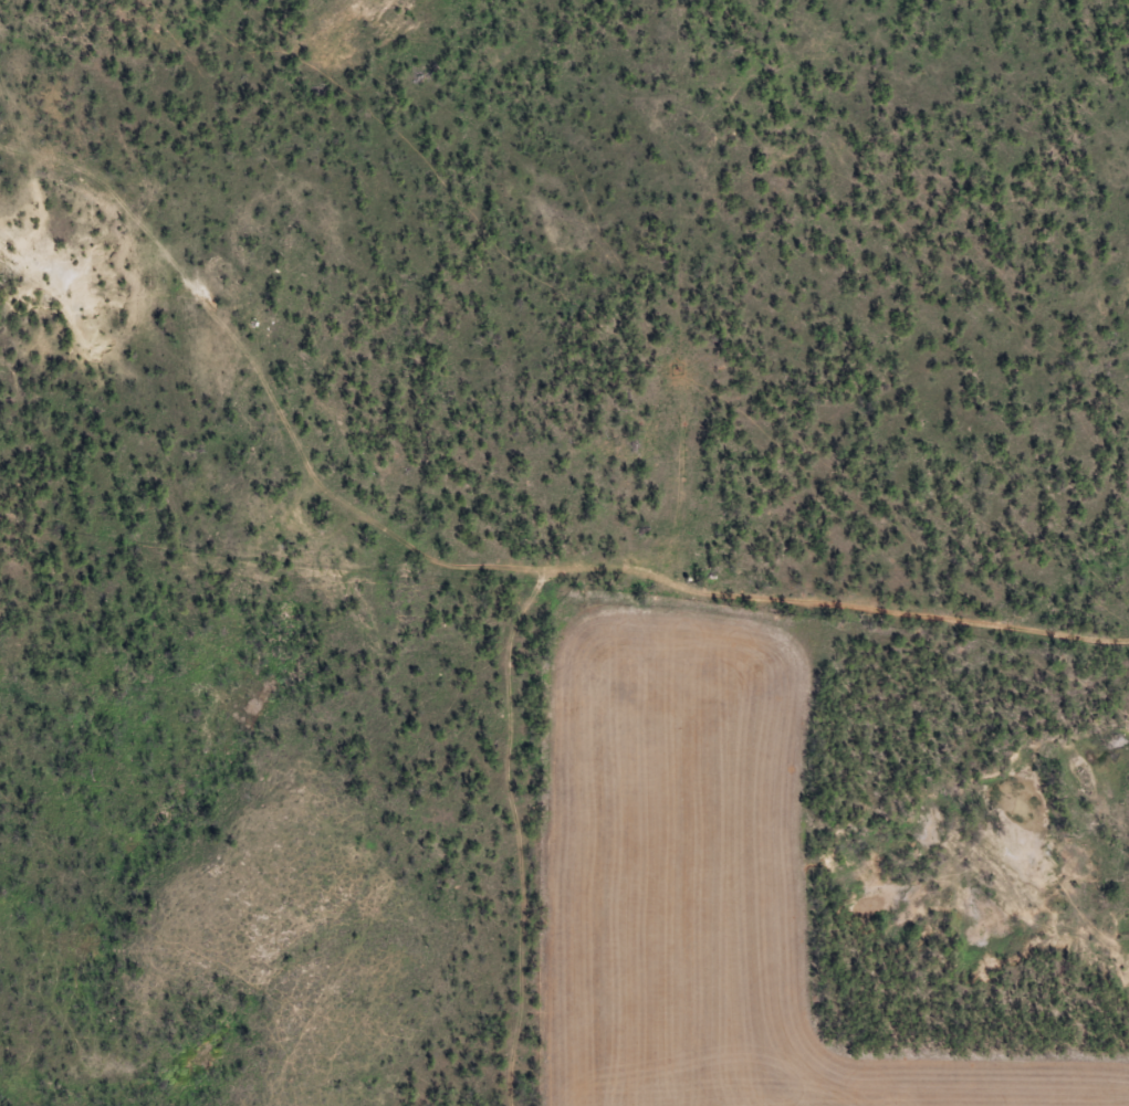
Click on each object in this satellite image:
road: (966, 715)

